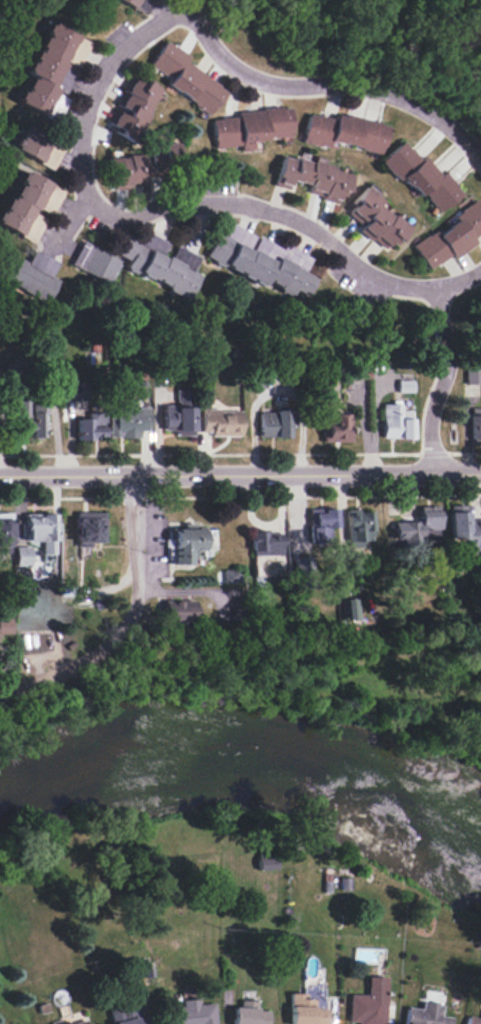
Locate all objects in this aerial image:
building: (137, 4)
road: (190, 6)
building: (49, 66)
building: (186, 77)
road: (333, 82)
building: (133, 108)
building: (251, 127)
building: (343, 131)
building: (37, 147)
building: (141, 164)
building: (313, 177)
building: (421, 177)
road: (179, 203)
building: (29, 205)
building: (376, 219)
road: (70, 221)
building: (450, 237)
building: (260, 260)
building: (93, 262)
building: (159, 263)
building: (32, 276)
road: (38, 366)
building: (362, 371)
building: (473, 372)
road: (441, 383)
building: (74, 392)
building: (178, 415)
building: (28, 418)
building: (128, 420)
building: (219, 422)
building: (396, 422)
building: (275, 423)
building: (476, 425)
building: (90, 427)
building: (337, 428)
road: (240, 476)
building: (321, 524)
building: (422, 525)
building: (358, 527)
building: (463, 527)
building: (87, 530)
building: (40, 531)
building: (5, 532)
building: (264, 543)
building: (187, 544)
building: (22, 556)
building: (299, 565)
road: (170, 593)
building: (347, 608)
building: (178, 614)
road: (126, 618)
building: (5, 626)
river: (245, 768)
building: (264, 861)
building: (366, 1007)
building: (304, 1011)
building: (191, 1013)
building: (247, 1014)
building: (424, 1015)
building: (130, 1020)
building: (472, 1020)
building: (80, 1023)

